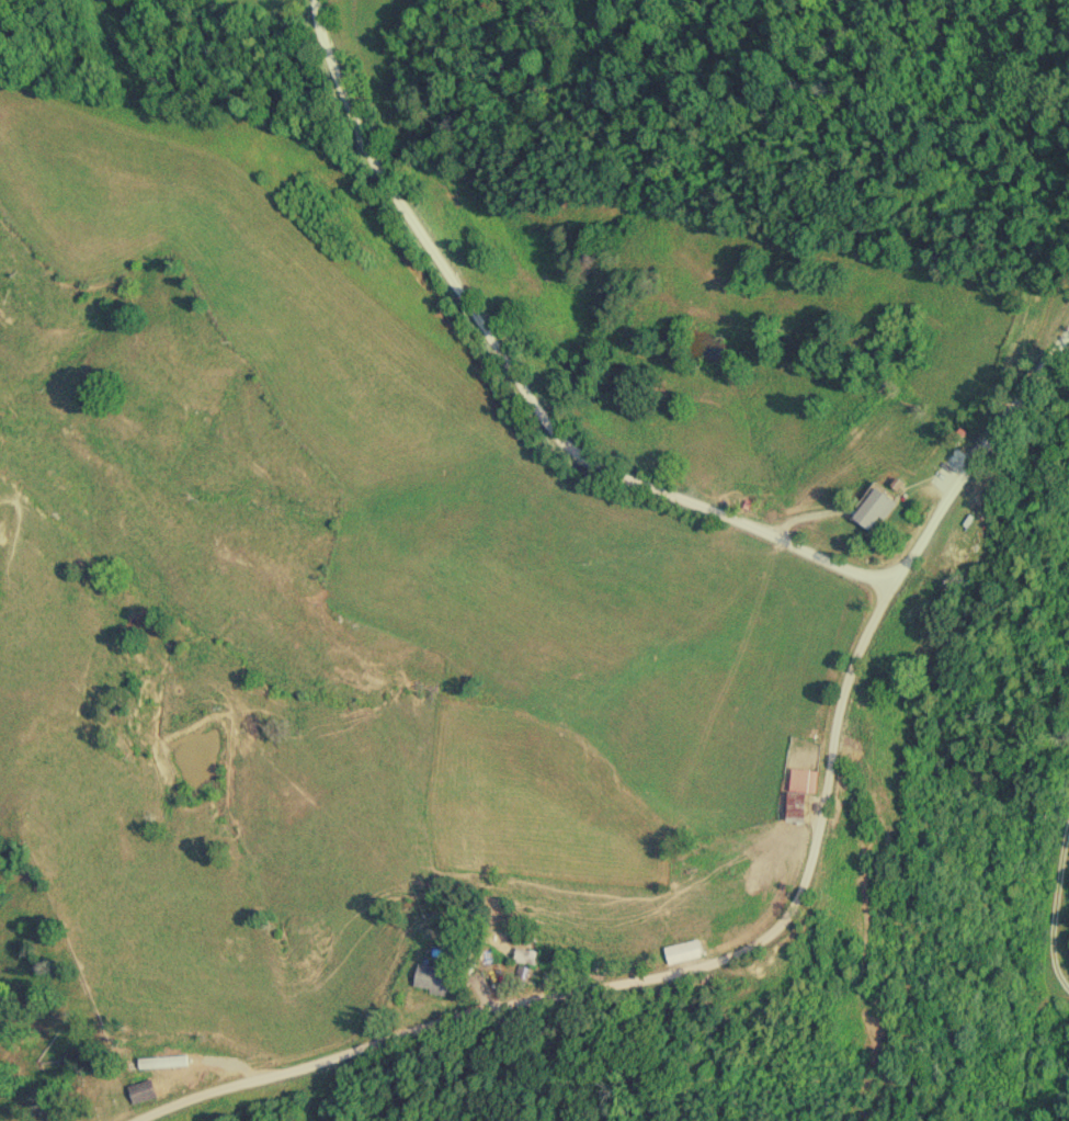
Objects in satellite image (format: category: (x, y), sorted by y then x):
road: (632, 477)
road: (838, 716)
road: (1054, 905)
road: (501, 999)

